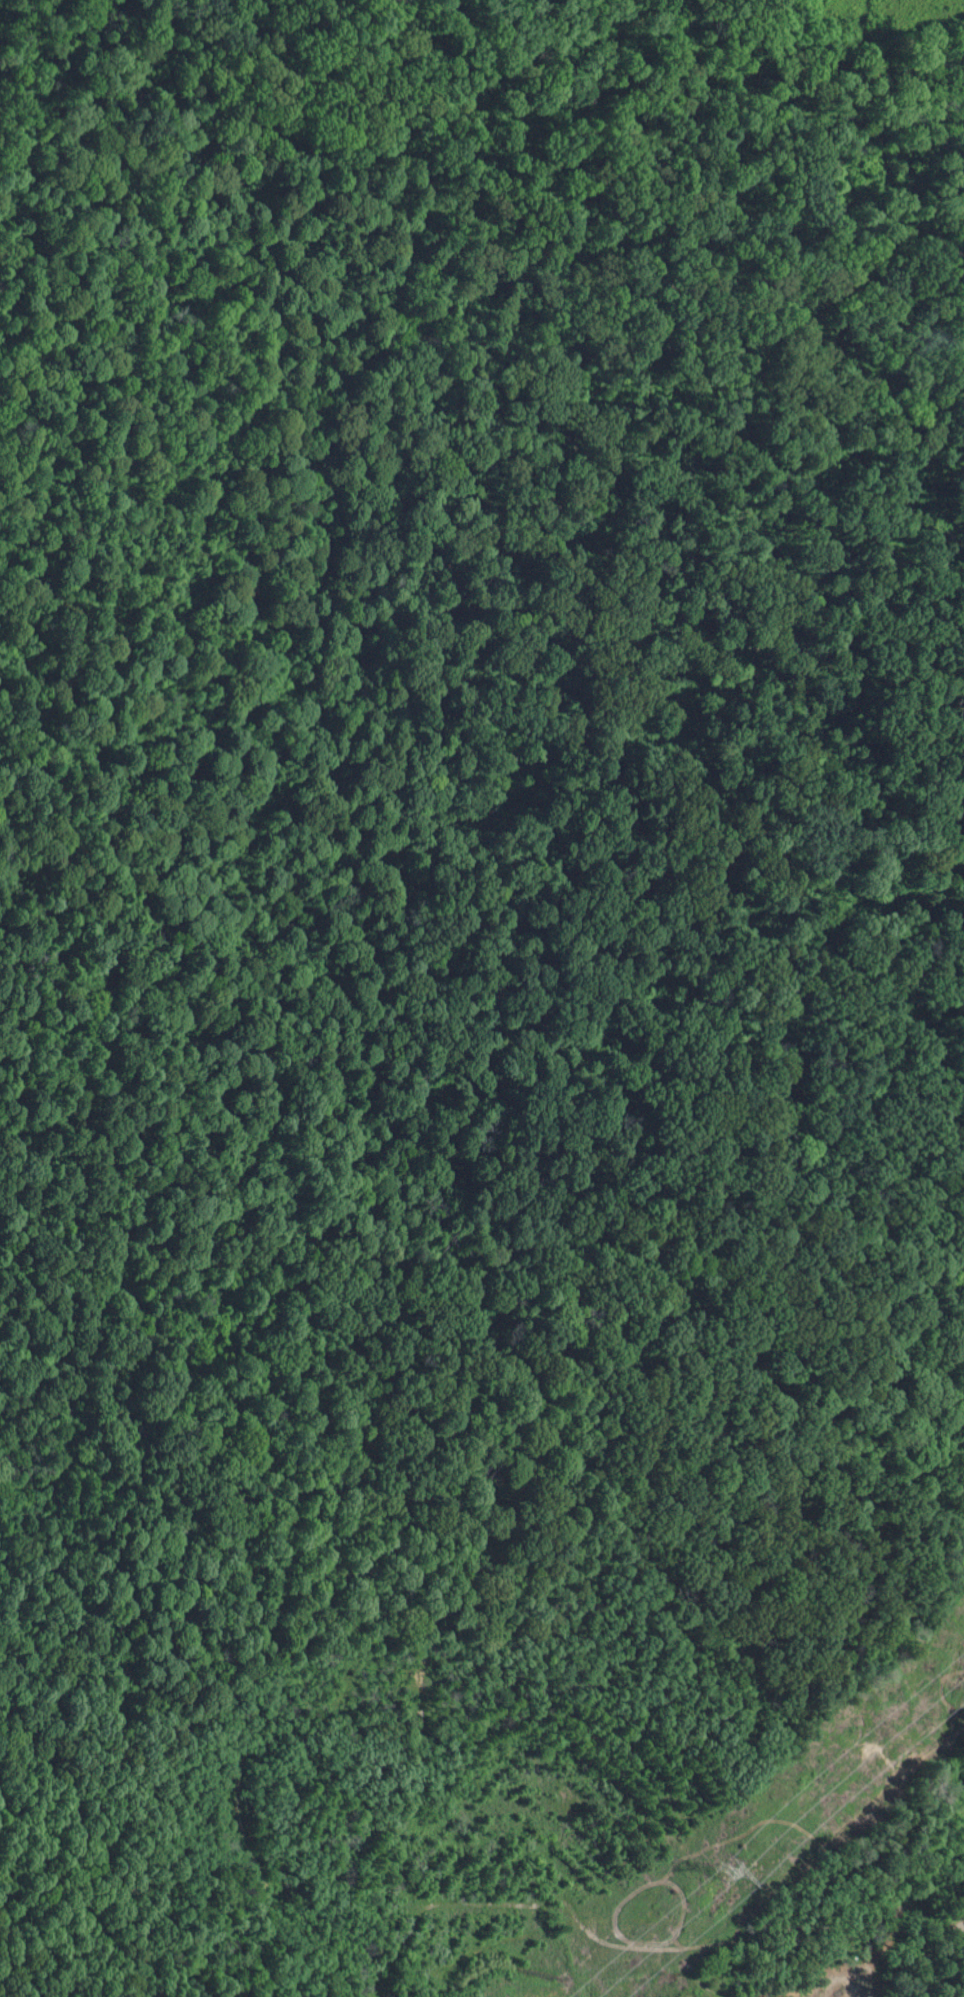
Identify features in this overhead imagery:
power tower: (723, 1873)

